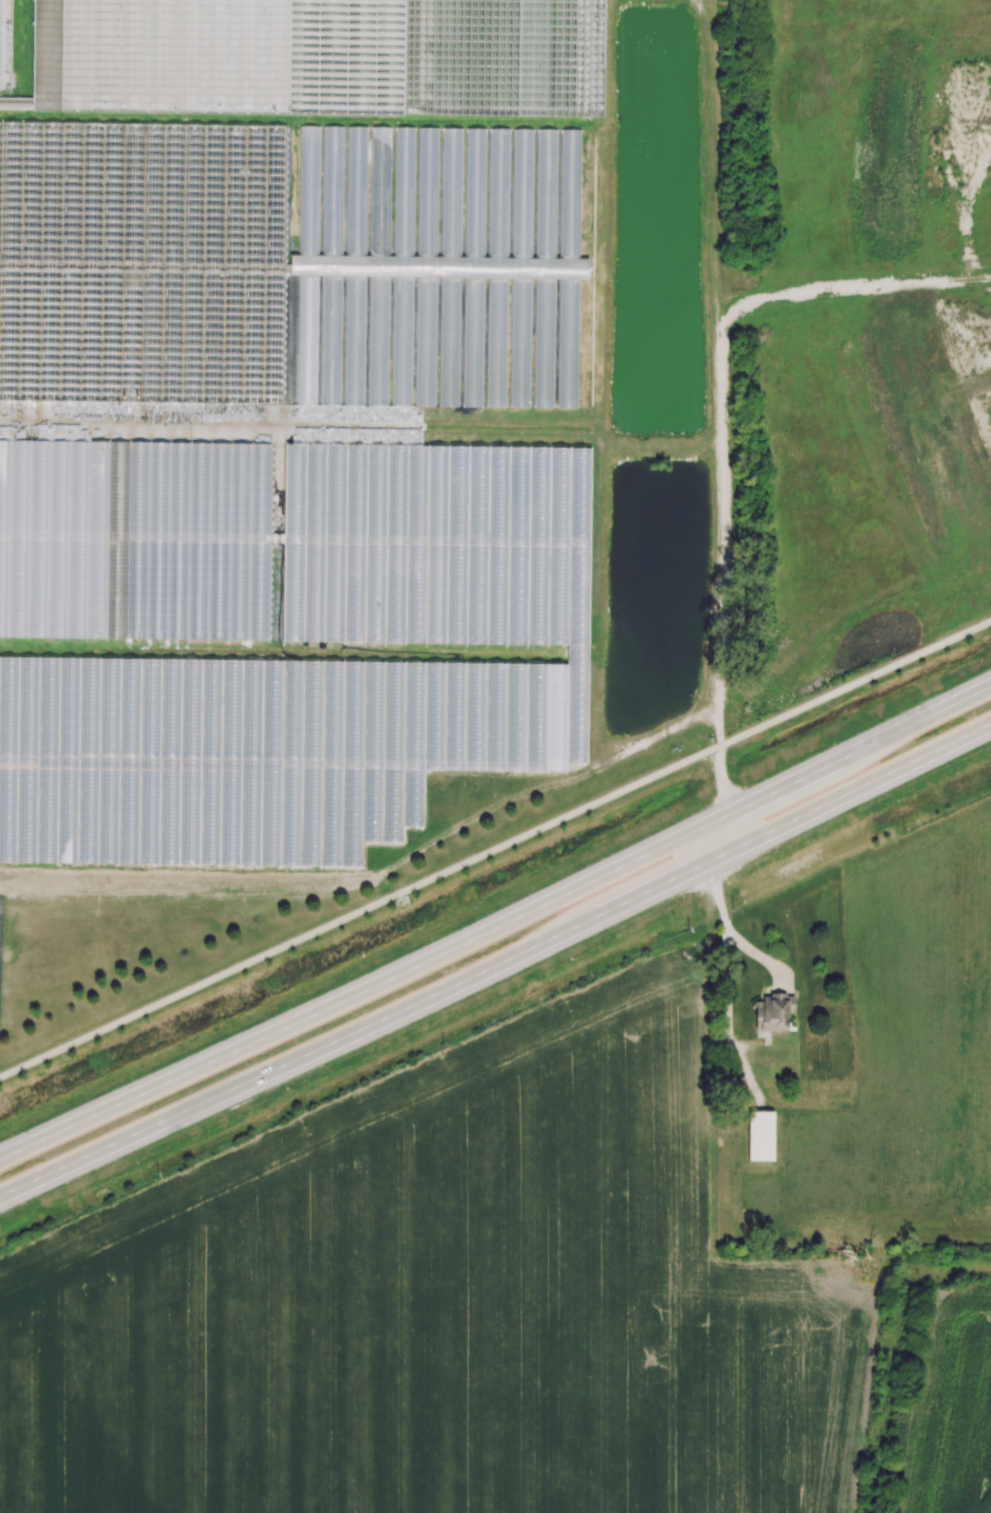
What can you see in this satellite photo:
building: (154, 59)
building: (477, 144)
building: (500, 144)
building: (523, 146)
building: (334, 173)
building: (545, 345)
building: (46, 540)
road: (851, 687)
road: (725, 783)
building: (31, 786)
road: (849, 794)
road: (556, 824)
road: (745, 828)
road: (701, 848)
road: (497, 929)
road: (763, 958)
road: (200, 987)
road: (727, 987)
building: (773, 1014)
road: (354, 1033)
building: (761, 1136)
road: (989, 1269)
crop: (950, 1411)

